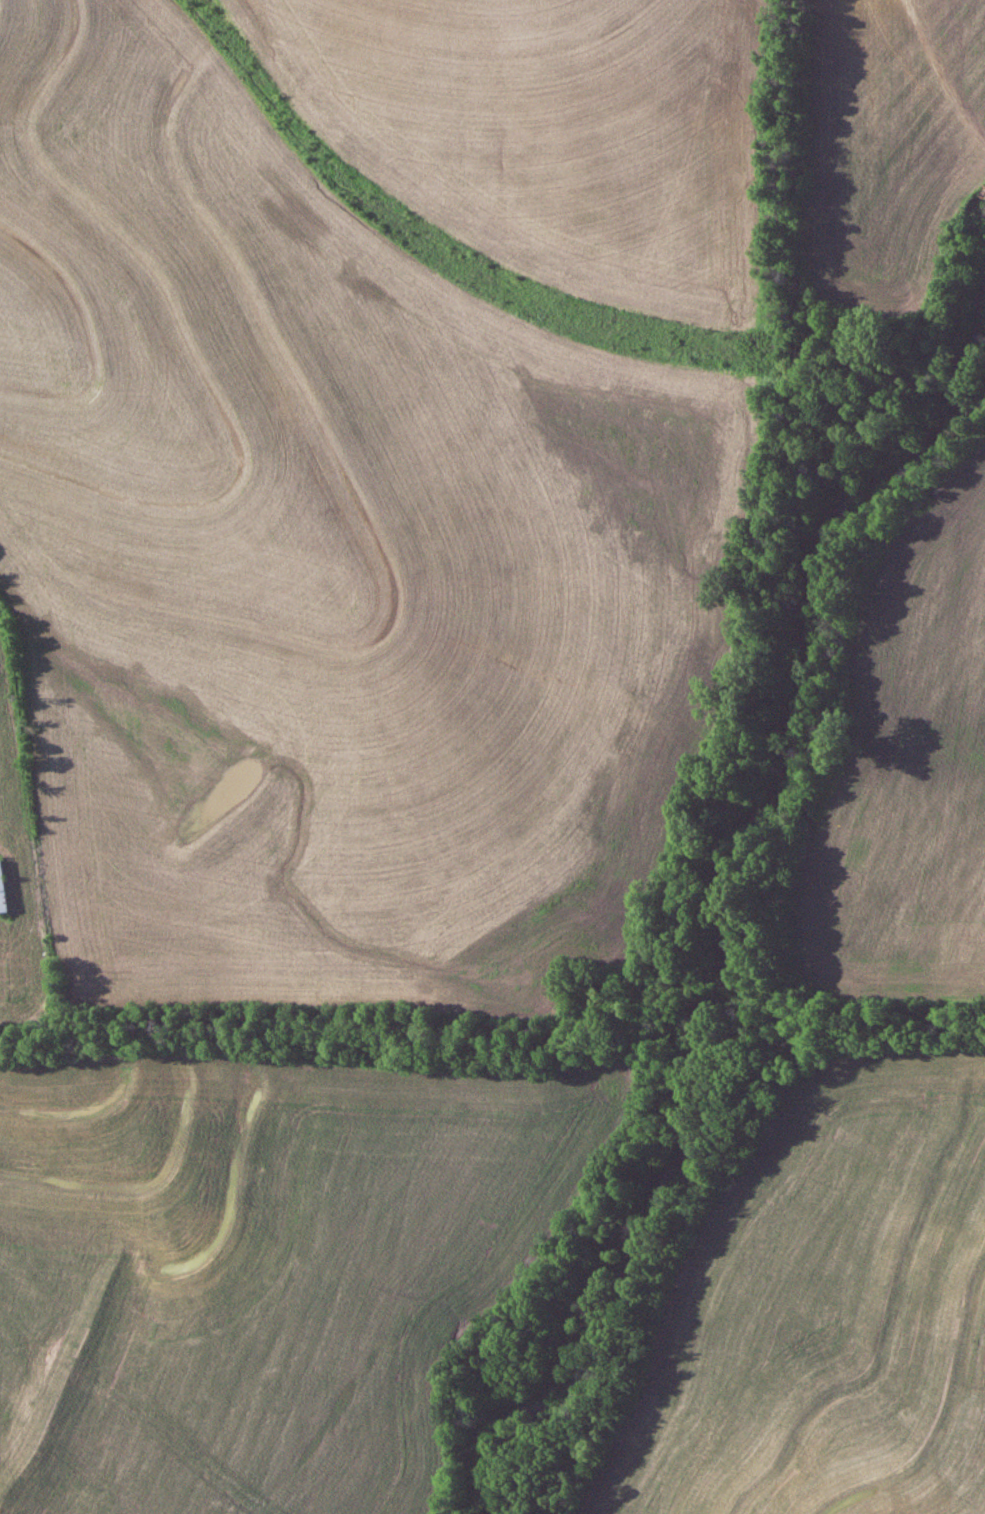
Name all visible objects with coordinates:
building: (4, 887)

